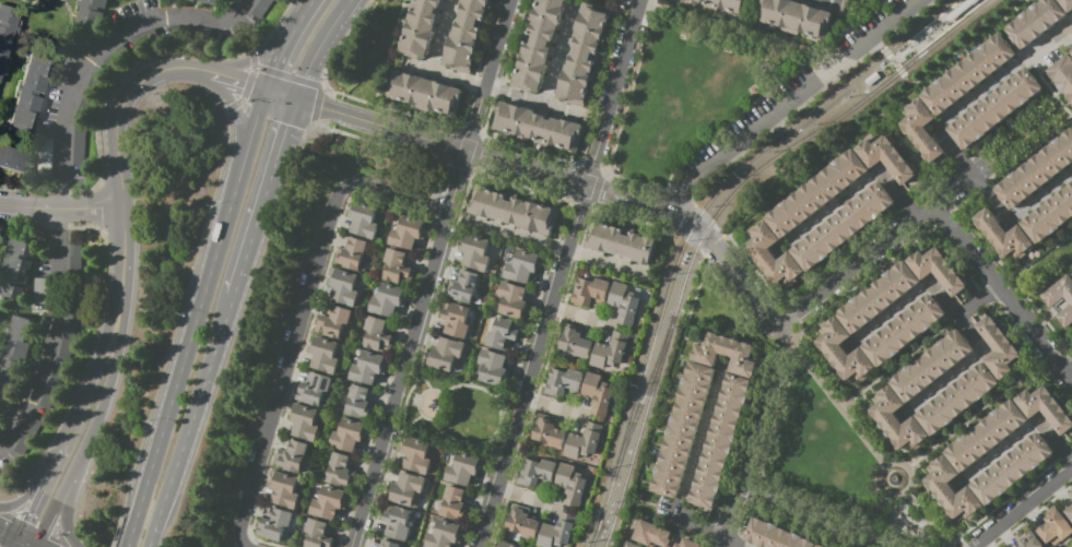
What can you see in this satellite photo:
road: (34, 0)
building: (211, 2)
road: (833, 2)
road: (25, 3)
building: (726, 4)
building: (1067, 4)
road: (233, 7)
building: (260, 8)
road: (849, 8)
park: (861, 8)
building: (961, 9)
road: (158, 11)
building: (91, 13)
road: (856, 14)
road: (754, 16)
building: (796, 17)
building: (1034, 22)
building: (420, 27)
road: (72, 28)
road: (1067, 29)
building: (7, 32)
building: (193, 34)
building: (466, 34)
road: (441, 35)
building: (142, 36)
road: (767, 39)
road: (1067, 40)
road: (42, 43)
road: (290, 44)
building: (538, 44)
road: (268, 46)
road: (319, 47)
building: (113, 53)
building: (584, 53)
road: (558, 55)
railway: (920, 55)
road: (905, 56)
road: (893, 58)
road: (385, 60)
road: (490, 66)
road: (445, 74)
building: (968, 74)
building: (1062, 76)
road: (240, 80)
traffic signals: (268, 90)
building: (28, 91)
parking lot: (799, 92)
building: (424, 93)
building: (89, 94)
road: (282, 94)
park: (685, 94)
road: (976, 98)
traffic signals: (297, 99)
road: (535, 100)
road: (790, 100)
road: (121, 102)
building: (993, 109)
road: (238, 115)
road: (731, 124)
building: (537, 126)
building: (920, 130)
road: (30, 138)
railway: (809, 139)
building: (76, 144)
road: (439, 144)
road: (914, 153)
building: (46, 155)
building: (885, 157)
building: (13, 158)
road: (460, 166)
building: (1037, 169)
road: (60, 170)
road: (856, 191)
railway: (719, 192)
building: (816, 192)
road: (397, 194)
road: (267, 197)
road: (628, 199)
road: (1, 210)
road: (61, 210)
building: (513, 211)
road: (747, 211)
road: (1018, 211)
building: (1049, 215)
building: (363, 221)
building: (841, 226)
building: (407, 233)
building: (1003, 233)
building: (622, 242)
road: (556, 248)
building: (474, 252)
road: (876, 252)
building: (352, 253)
building: (771, 255)
building: (74, 259)
building: (397, 266)
building: (521, 266)
road: (1037, 266)
park: (1044, 266)
building: (14, 267)
road: (122, 269)
building: (936, 270)
road: (559, 273)
road: (734, 275)
building: (464, 286)
building: (344, 287)
building: (591, 289)
building: (40, 292)
road: (1003, 296)
building: (877, 297)
building: (76, 298)
building: (511, 299)
building: (386, 300)
road: (908, 300)
building: (1050, 300)
road: (979, 302)
building: (623, 304)
road: (28, 309)
road: (1, 311)
road: (579, 317)
road: (200, 318)
building: (456, 320)
building: (333, 322)
building: (904, 331)
building: (376, 333)
building: (500, 334)
building: (67, 341)
building: (575, 343)
building: (997, 346)
road: (1061, 349)
building: (843, 352)
building: (446, 354)
building: (608, 354)
building: (726, 354)
building: (14, 355)
building: (323, 355)
road: (286, 362)
road: (899, 364)
building: (932, 365)
building: (367, 367)
building: (492, 367)
road: (962, 369)
road: (400, 374)
building: (562, 381)
road: (87, 383)
building: (314, 389)
road: (433, 389)
road: (513, 390)
building: (51, 392)
building: (597, 393)
railway: (644, 395)
building: (957, 399)
building: (358, 402)
road: (416, 404)
road: (834, 404)
road: (552, 407)
building: (1045, 407)
road: (103, 408)
park: (452, 413)
road: (978, 413)
road: (762, 415)
road: (197, 420)
building: (896, 420)
building: (304, 424)
road: (400, 427)
road: (500, 428)
building: (682, 429)
railway: (639, 431)
building: (28, 432)
building: (549, 433)
building: (346, 436)
building: (987, 436)
road: (1020, 437)
building: (720, 441)
road: (700, 442)
building: (581, 443)
road: (57, 453)
building: (293, 456)
building: (414, 456)
park: (816, 456)
road: (493, 461)
building: (462, 468)
building: (1011, 468)
building: (340, 471)
building: (535, 472)
fountain: (896, 478)
building: (570, 485)
building: (405, 488)
building: (950, 490)
building: (283, 491)
road: (902, 492)
building: (1070, 496)
road: (30, 497)
road: (526, 499)
building: (1070, 499)
building: (329, 502)
building: (453, 503)
road: (35, 506)
road: (1022, 508)
railway: (602, 511)
road: (52, 513)
building: (1069, 513)
road: (66, 514)
road: (729, 515)
road: (808, 516)
road: (879, 519)
road: (924, 520)
building: (521, 522)
building: (397, 523)
building: (274, 524)
road: (688, 525)
building: (1053, 528)
building: (318, 534)
building: (443, 534)
building: (555, 534)
building: (652, 534)
building: (774, 536)
road: (10, 537)
building: (1027, 539)
traffic signals: (21, 543)
building: (390, 544)
building: (687, 544)
road: (731, 544)
road: (20, 545)
road: (25, 545)
road: (245, 545)
building: (506, 545)
building: (631, 545)
building: (820, 546)
road: (872, 546)

